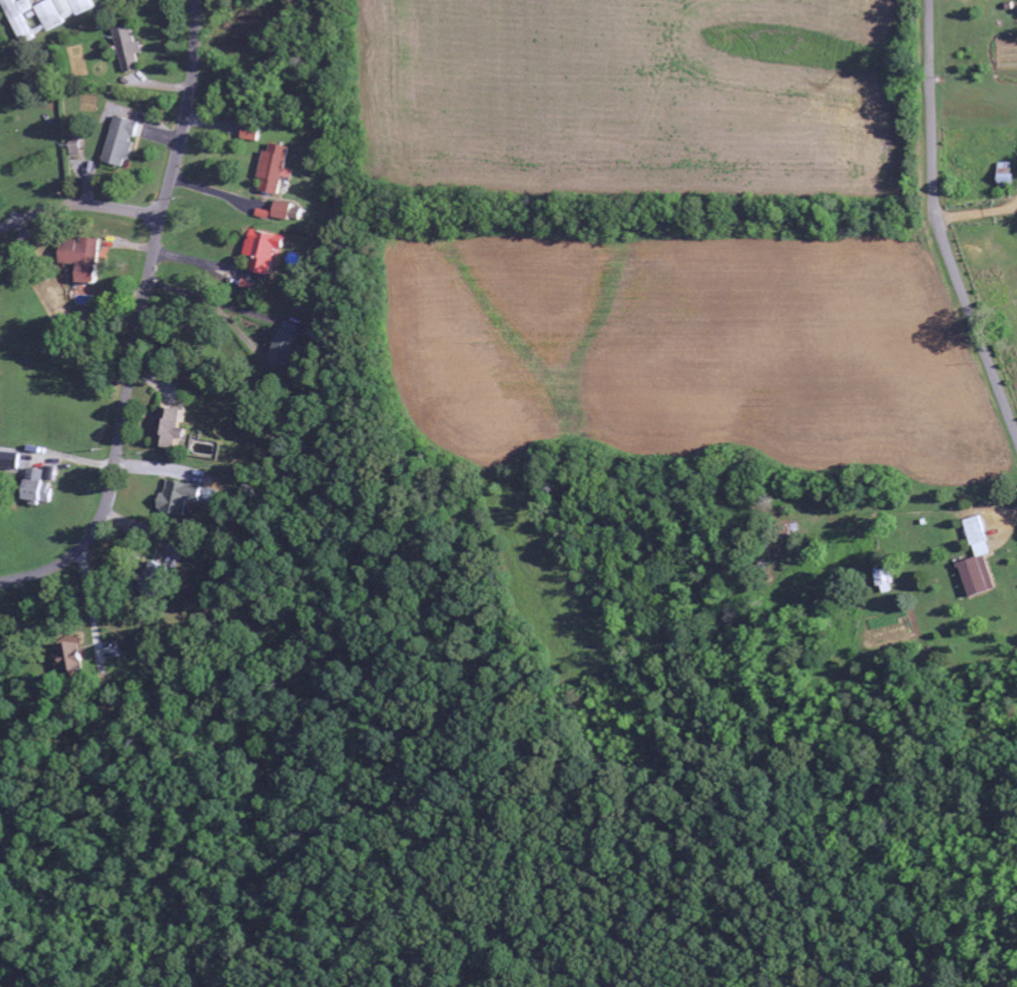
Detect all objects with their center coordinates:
building: (41, 14)
building: (129, 48)
building: (251, 133)
building: (123, 141)
building: (274, 168)
building: (1000, 174)
road: (79, 204)
building: (283, 210)
road: (939, 224)
building: (265, 250)
building: (85, 258)
road: (139, 320)
building: (286, 348)
building: (172, 428)
building: (40, 487)
building: (182, 497)
building: (974, 537)
building: (969, 577)
building: (71, 654)

